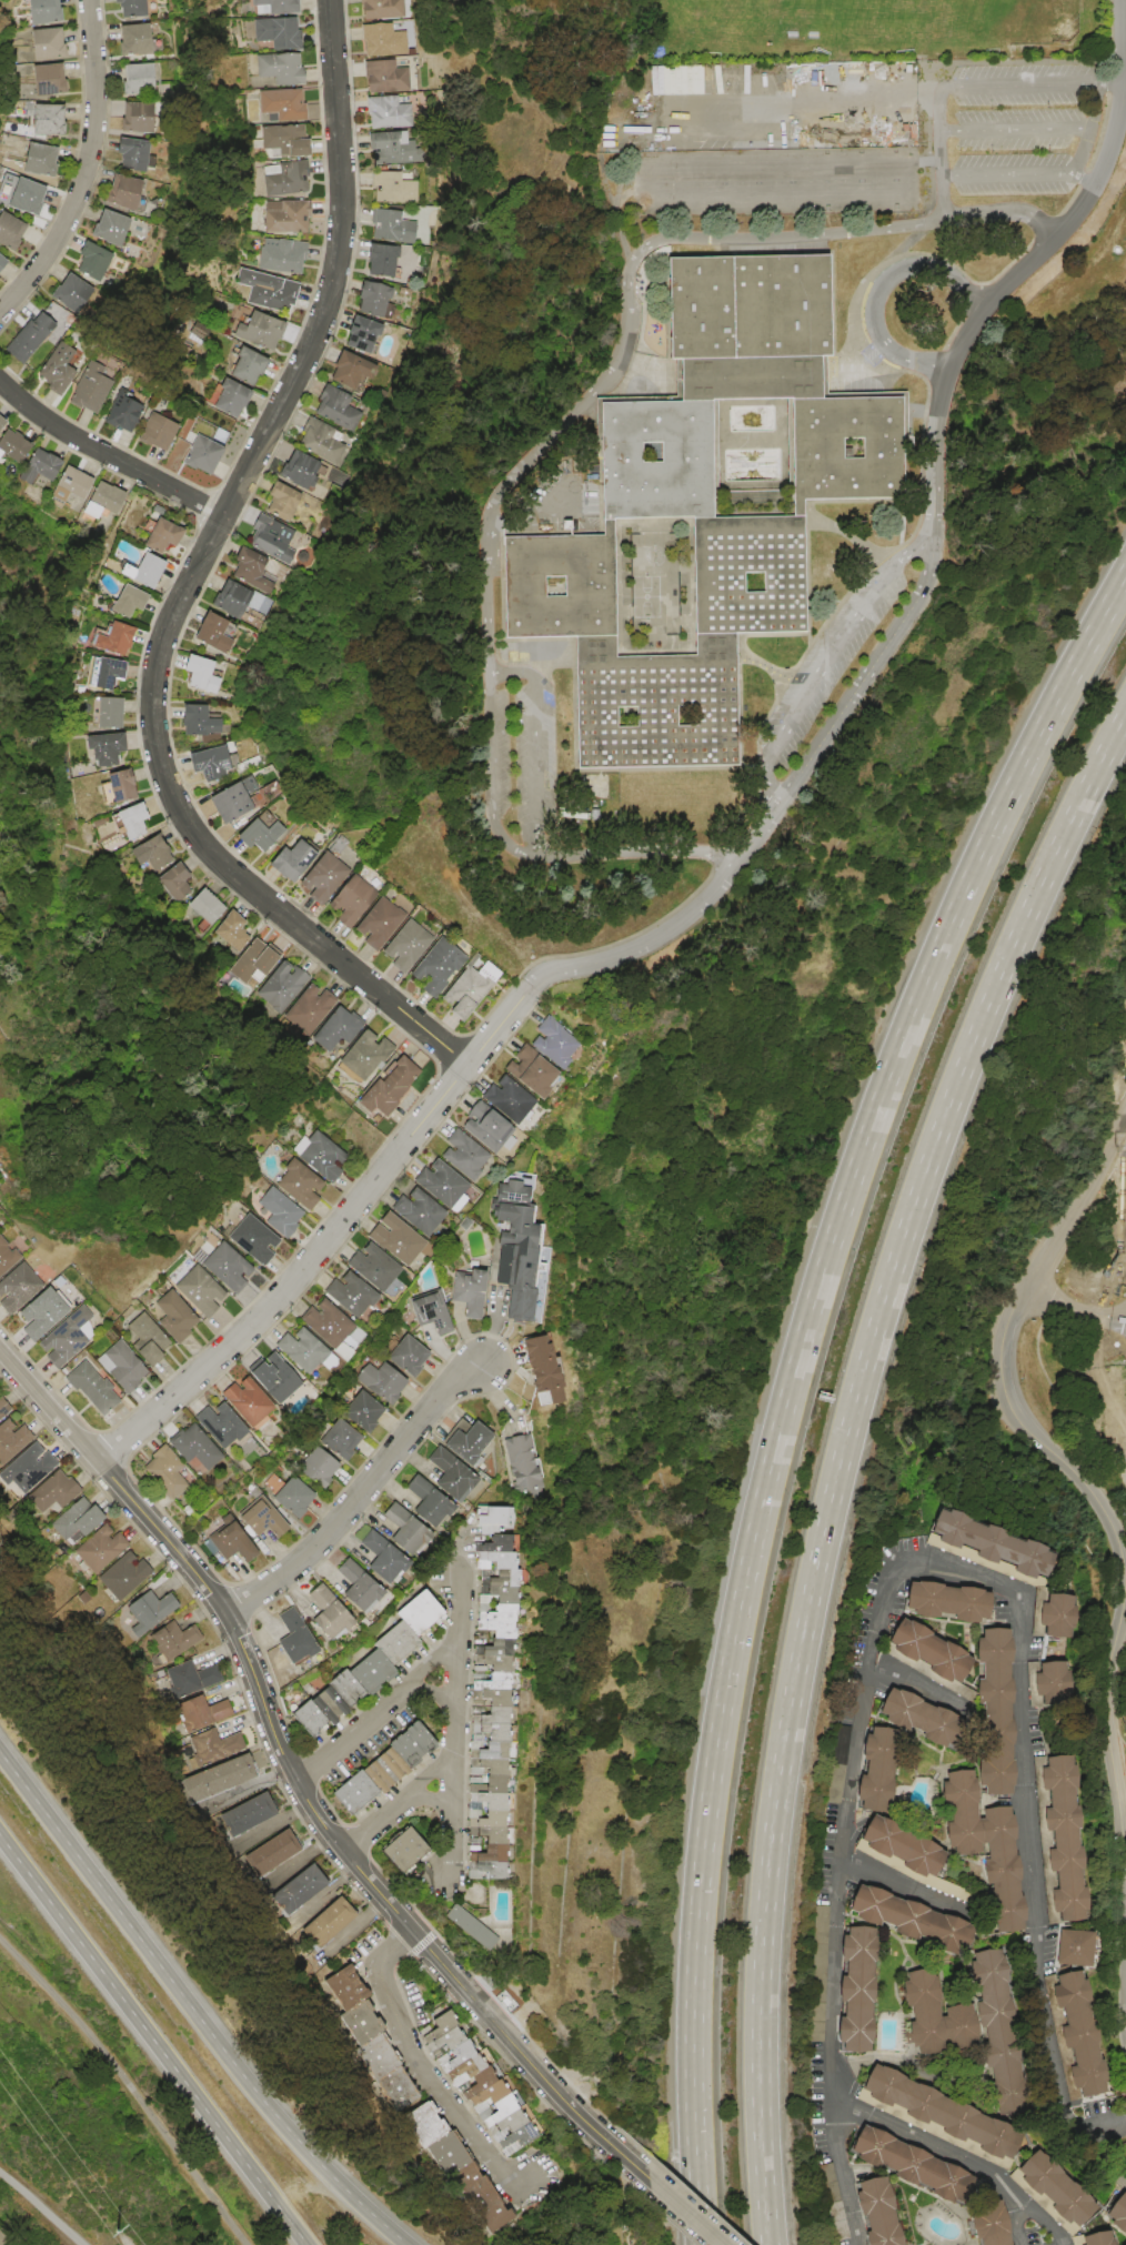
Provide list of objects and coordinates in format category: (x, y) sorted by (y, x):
building: (277, 7)
building: (142, 8)
building: (381, 9)
building: (50, 10)
road: (1125, 17)
building: (279, 32)
building: (383, 39)
building: (147, 40)
building: (54, 43)
building: (282, 69)
building: (385, 75)
building: (693, 78)
building: (54, 80)
building: (151, 80)
road: (844, 95)
building: (275, 107)
building: (389, 110)
building: (150, 118)
road: (935, 118)
building: (57, 120)
road: (1012, 123)
road: (1086, 127)
building: (284, 142)
building: (391, 148)
building: (145, 154)
building: (49, 160)
road: (88, 170)
building: (286, 178)
building: (391, 187)
building: (138, 194)
road: (941, 195)
building: (36, 198)
road: (967, 214)
building: (288, 217)
building: (394, 225)
building: (131, 230)
building: (16, 231)
building: (283, 254)
building: (395, 261)
road: (903, 261)
building: (6, 263)
building: (104, 263)
road: (625, 270)
building: (270, 290)
building: (81, 299)
building: (372, 299)
building: (831, 310)
building: (263, 330)
building: (361, 333)
building: (39, 340)
road: (914, 360)
building: (251, 366)
road: (864, 369)
building: (66, 370)
building: (350, 370)
road: (872, 372)
building: (98, 389)
building: (235, 399)
building: (333, 403)
building: (131, 413)
building: (3, 424)
building: (163, 432)
building: (325, 442)
building: (17, 444)
road: (109, 455)
building: (208, 455)
building: (48, 464)
building: (301, 471)
building: (78, 482)
building: (111, 497)
building: (702, 504)
building: (284, 506)
building: (160, 535)
building: (271, 538)
road: (487, 554)
road: (935, 556)
building: (142, 570)
building: (253, 570)
road: (190, 587)
building: (125, 600)
building: (234, 600)
building: (213, 634)
building: (112, 638)
road: (825, 657)
building: (102, 673)
building: (200, 674)
building: (107, 713)
building: (197, 722)
road: (532, 736)
building: (103, 748)
building: (207, 763)
building: (119, 786)
building: (230, 798)
building: (130, 821)
building: (258, 833)
building: (150, 853)
building: (288, 862)
building: (320, 878)
building: (175, 883)
building: (349, 900)
building: (204, 908)
building: (375, 924)
building: (231, 932)
building: (402, 946)
building: (249, 967)
building: (432, 967)
building: (279, 988)
building: (463, 990)
building: (309, 1007)
building: (334, 1030)
building: (549, 1044)
building: (364, 1054)
building: (527, 1074)
building: (386, 1088)
building: (502, 1101)
building: (483, 1130)
building: (316, 1155)
building: (461, 1155)
building: (296, 1184)
building: (441, 1184)
building: (415, 1211)
building: (277, 1212)
road: (330, 1238)
building: (392, 1238)
building: (250, 1240)
building: (0, 1246)
building: (507, 1250)
building: (4, 1259)
building: (224, 1267)
building: (541, 1267)
building: (371, 1268)
building: (12, 1287)
building: (195, 1291)
building: (464, 1292)
building: (349, 1296)
road: (1075, 1308)
building: (428, 1311)
building: (34, 1315)
building: (170, 1317)
building: (323, 1323)
building: (62, 1338)
building: (141, 1340)
park: (1083, 1340)
road: (1005, 1349)
building: (299, 1350)
building: (404, 1355)
building: (114, 1367)
building: (534, 1371)
road: (791, 1379)
building: (271, 1380)
building: (379, 1382)
building: (86, 1388)
building: (242, 1402)
building: (1, 1409)
building: (359, 1412)
building: (214, 1427)
building: (9, 1439)
building: (336, 1440)
building: (461, 1443)
building: (189, 1449)
road: (840, 1453)
building: (513, 1464)
building: (22, 1469)
building: (313, 1469)
building: (158, 1472)
building: (444, 1473)
building: (43, 1496)
road: (362, 1497)
building: (288, 1498)
building: (422, 1501)
building: (255, 1520)
building: (481, 1521)
building: (67, 1523)
building: (396, 1530)
building: (490, 1532)
building: (993, 1543)
building: (222, 1544)
building: (487, 1547)
building: (91, 1551)
building: (374, 1559)
building: (486, 1563)
building: (113, 1578)
building: (351, 1589)
building: (490, 1591)
building: (948, 1601)
building: (139, 1614)
building: (1057, 1615)
building: (320, 1617)
building: (411, 1617)
building: (489, 1617)
building: (485, 1632)
building: (285, 1640)
building: (162, 1642)
building: (386, 1645)
building: (489, 1650)
building: (929, 1650)
building: (481, 1664)
building: (362, 1674)
building: (179, 1682)
building: (1052, 1682)
road: (924, 1685)
building: (481, 1687)
building: (335, 1690)
road: (430, 1694)
park: (1120, 1699)
building: (484, 1701)
building: (322, 1704)
building: (996, 1709)
road: (375, 1714)
building: (190, 1715)
building: (302, 1718)
building: (921, 1718)
building: (483, 1720)
road: (1108, 1721)
road: (451, 1726)
building: (483, 1735)
building: (403, 1745)
building: (203, 1750)
building: (481, 1755)
road: (856, 1760)
building: (878, 1769)
building: (481, 1771)
building: (375, 1773)
building: (212, 1779)
road: (296, 1781)
road: (249, 1786)
building: (480, 1786)
building: (346, 1795)
road: (433, 1799)
road: (401, 1806)
building: (476, 1810)
building: (963, 1812)
building: (234, 1814)
road: (272, 1823)
building: (477, 1832)
building: (1064, 1838)
building: (903, 1845)
building: (394, 1848)
building: (264, 1850)
building: (479, 1851)
road: (296, 1859)
building: (476, 1868)
building: (1004, 1869)
building: (289, 1890)
road: (917, 1892)
building: (909, 1917)
building: (320, 1921)
building: (462, 1925)
building: (1075, 1947)
road: (1037, 1966)
building: (857, 1989)
building: (336, 1990)
road: (192, 2009)
building: (925, 2012)
building: (436, 2023)
building: (354, 2024)
building: (962, 2026)
building: (999, 2032)
building: (1080, 2033)
building: (441, 2038)
road: (152, 2041)
building: (451, 2053)
building: (371, 2057)
building: (460, 2066)
road: (423, 2071)
road: (135, 2082)
building: (477, 2086)
building: (390, 2091)
building: (492, 2108)
building: (944, 2112)
building: (510, 2126)
building: (425, 2136)
road: (1116, 2152)
road: (958, 2158)
building: (902, 2162)
building: (451, 2172)
building: (459, 2179)
building: (1056, 2188)
building: (830, 2202)
building: (476, 2205)
road: (42, 2208)
road: (683, 2212)
building: (874, 2213)
building: (1118, 2214)
road: (1016, 2215)
building: (986, 2223)
power tower: (115, 2231)
building: (1094, 2238)

